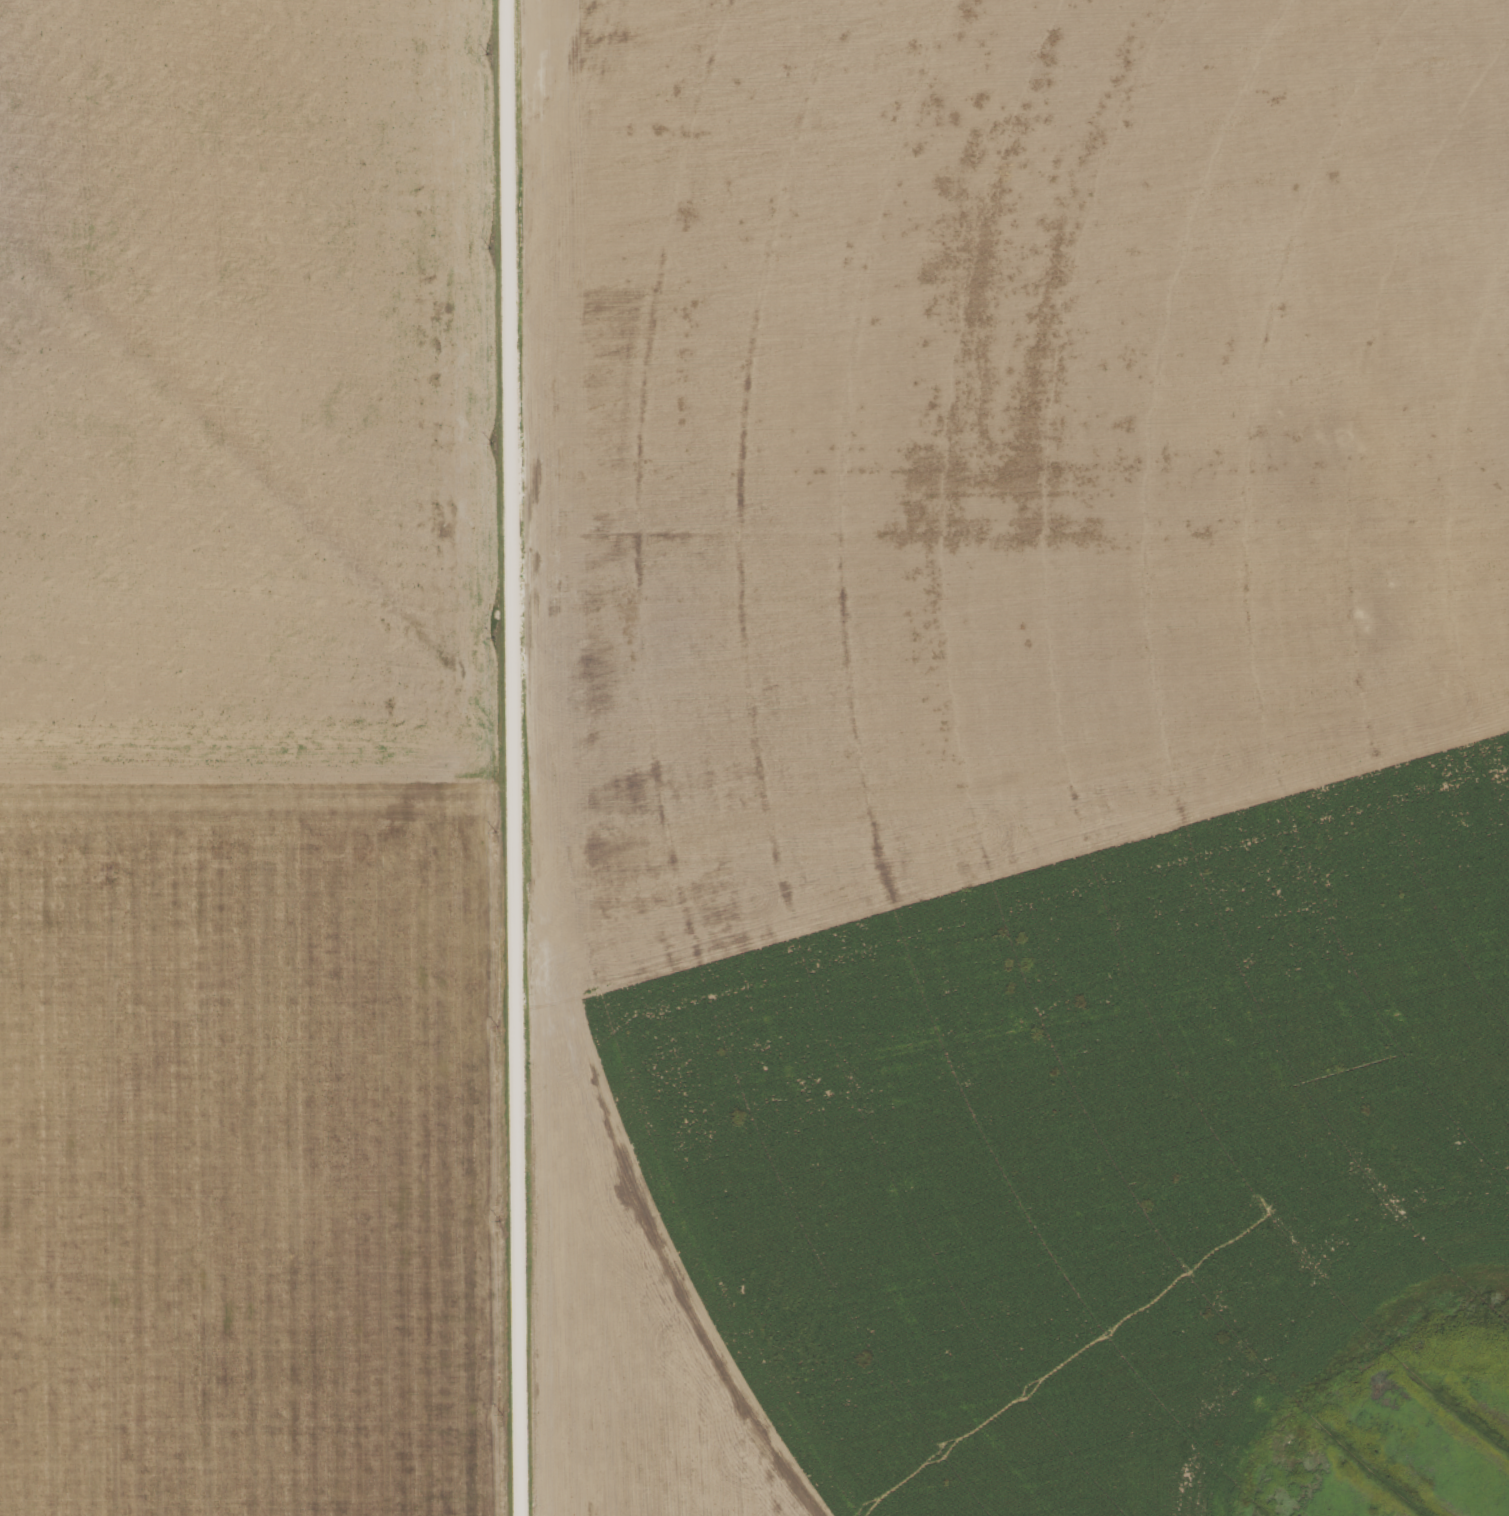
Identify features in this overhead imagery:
road: (518, 758)

